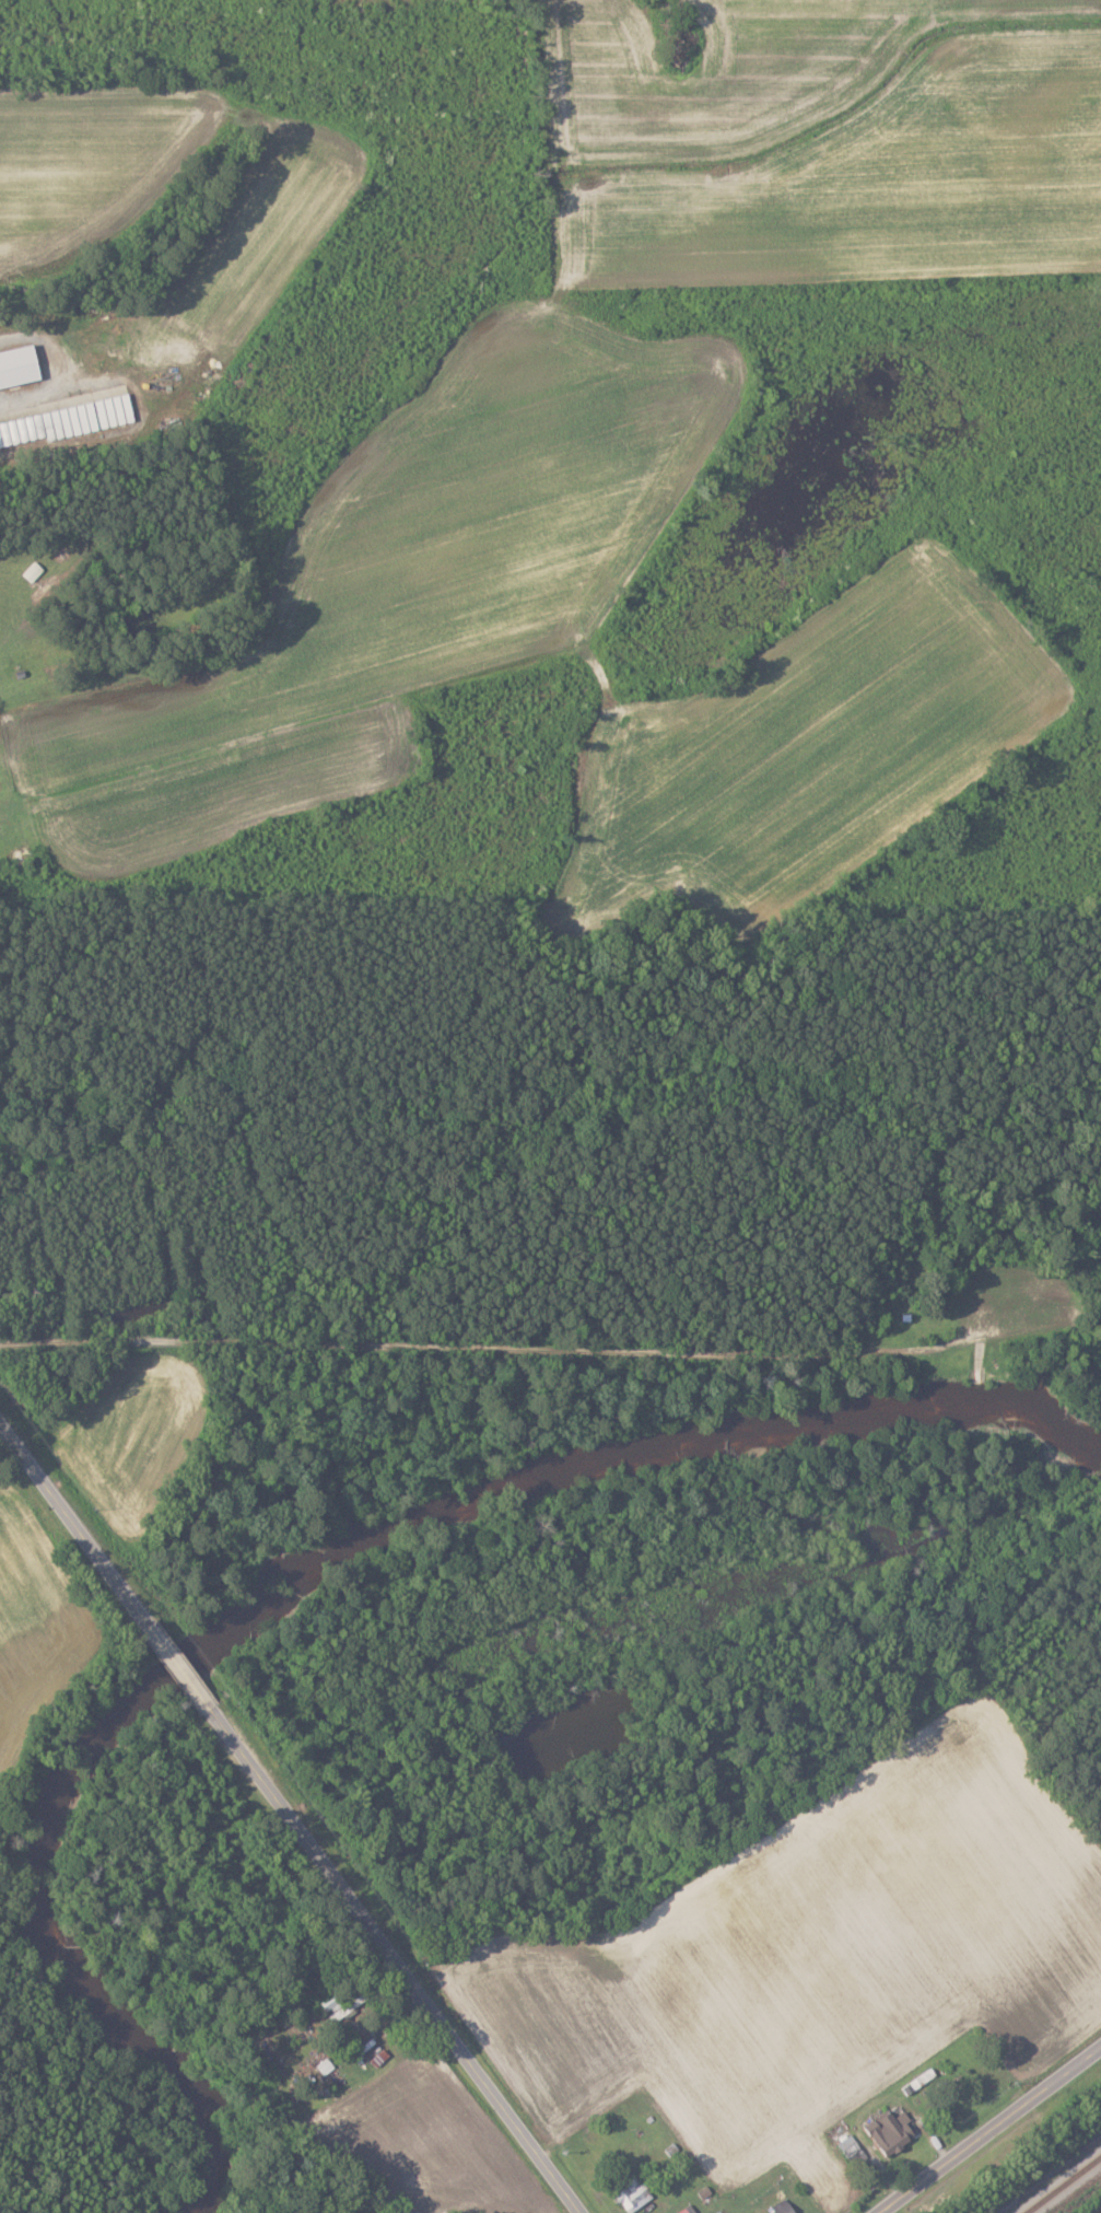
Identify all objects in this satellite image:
road: (57, 365)
building: (20, 366)
road: (480, 1370)
road: (74, 1518)
river: (325, 1586)
road: (186, 1673)
road: (402, 1966)
road: (987, 2128)
building: (893, 2131)
railway: (1064, 2185)
building: (783, 2206)
building: (689, 2210)

